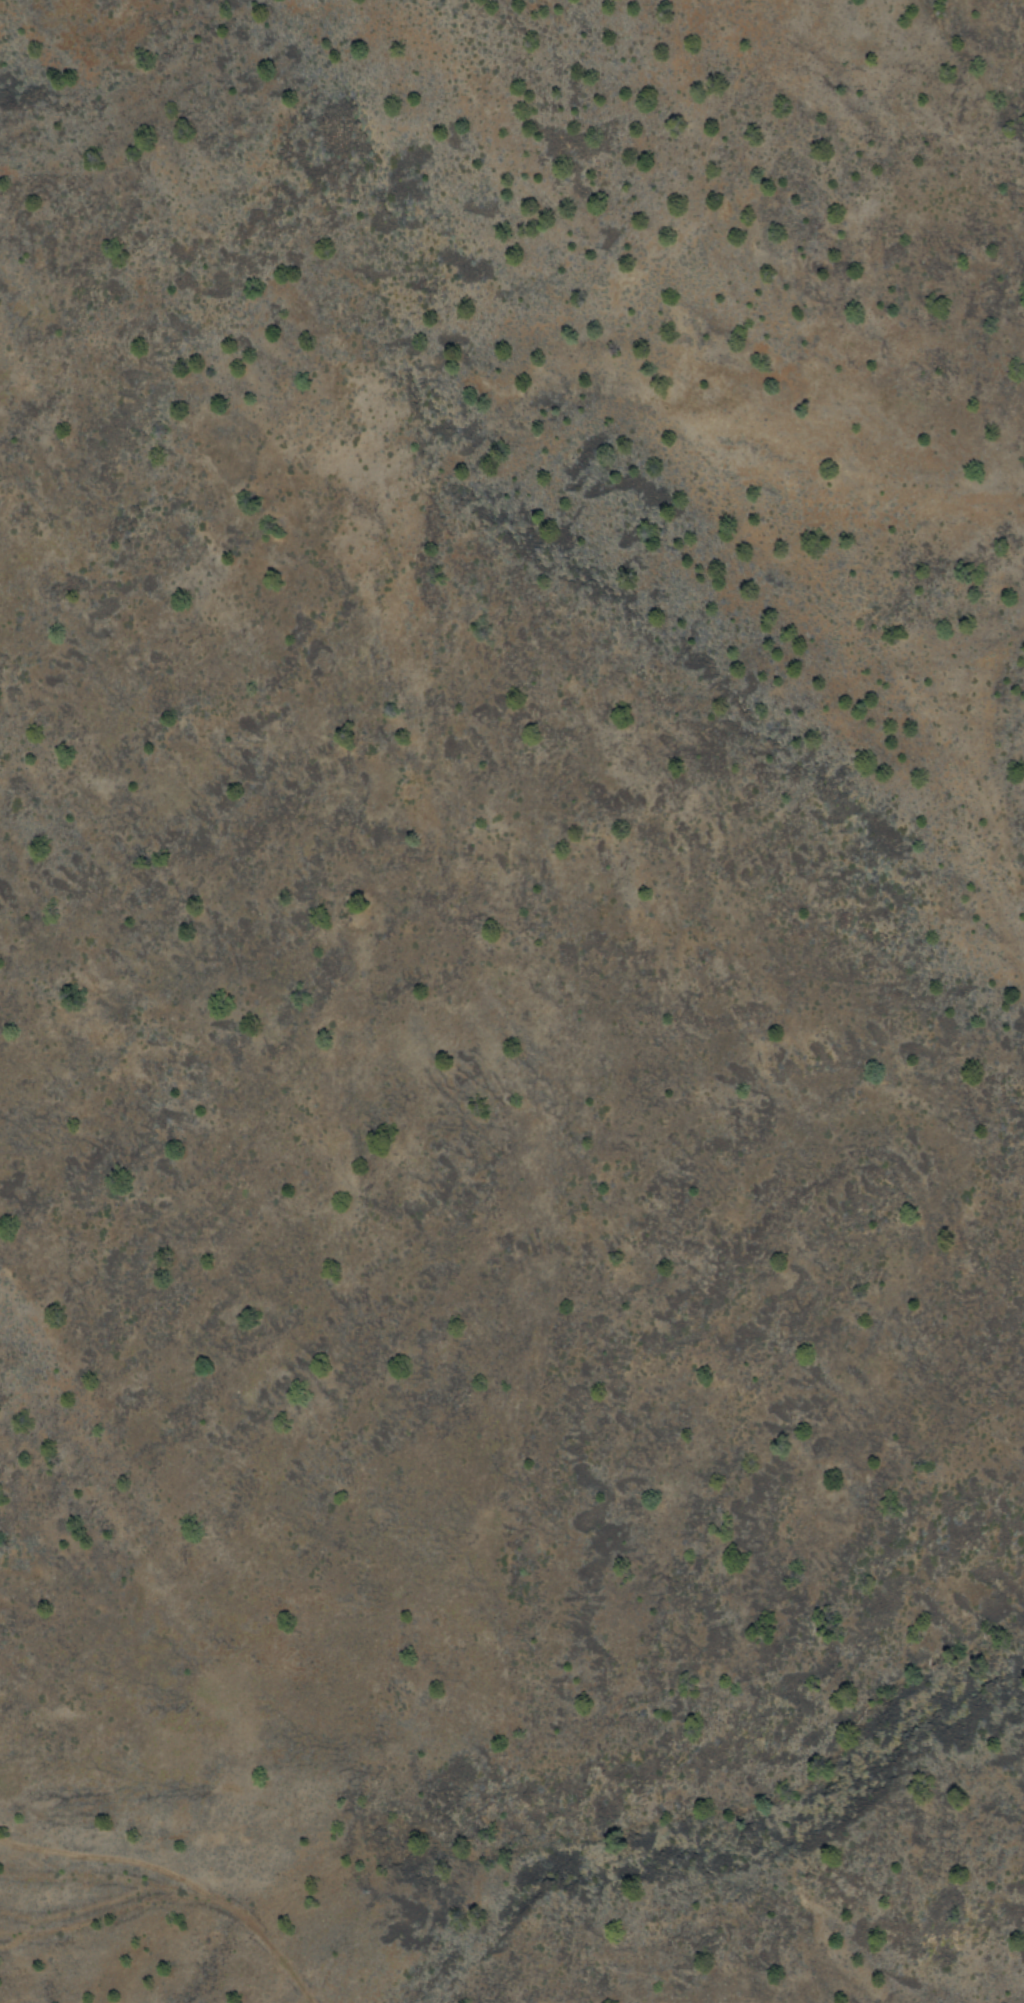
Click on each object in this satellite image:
road: (178, 1896)

